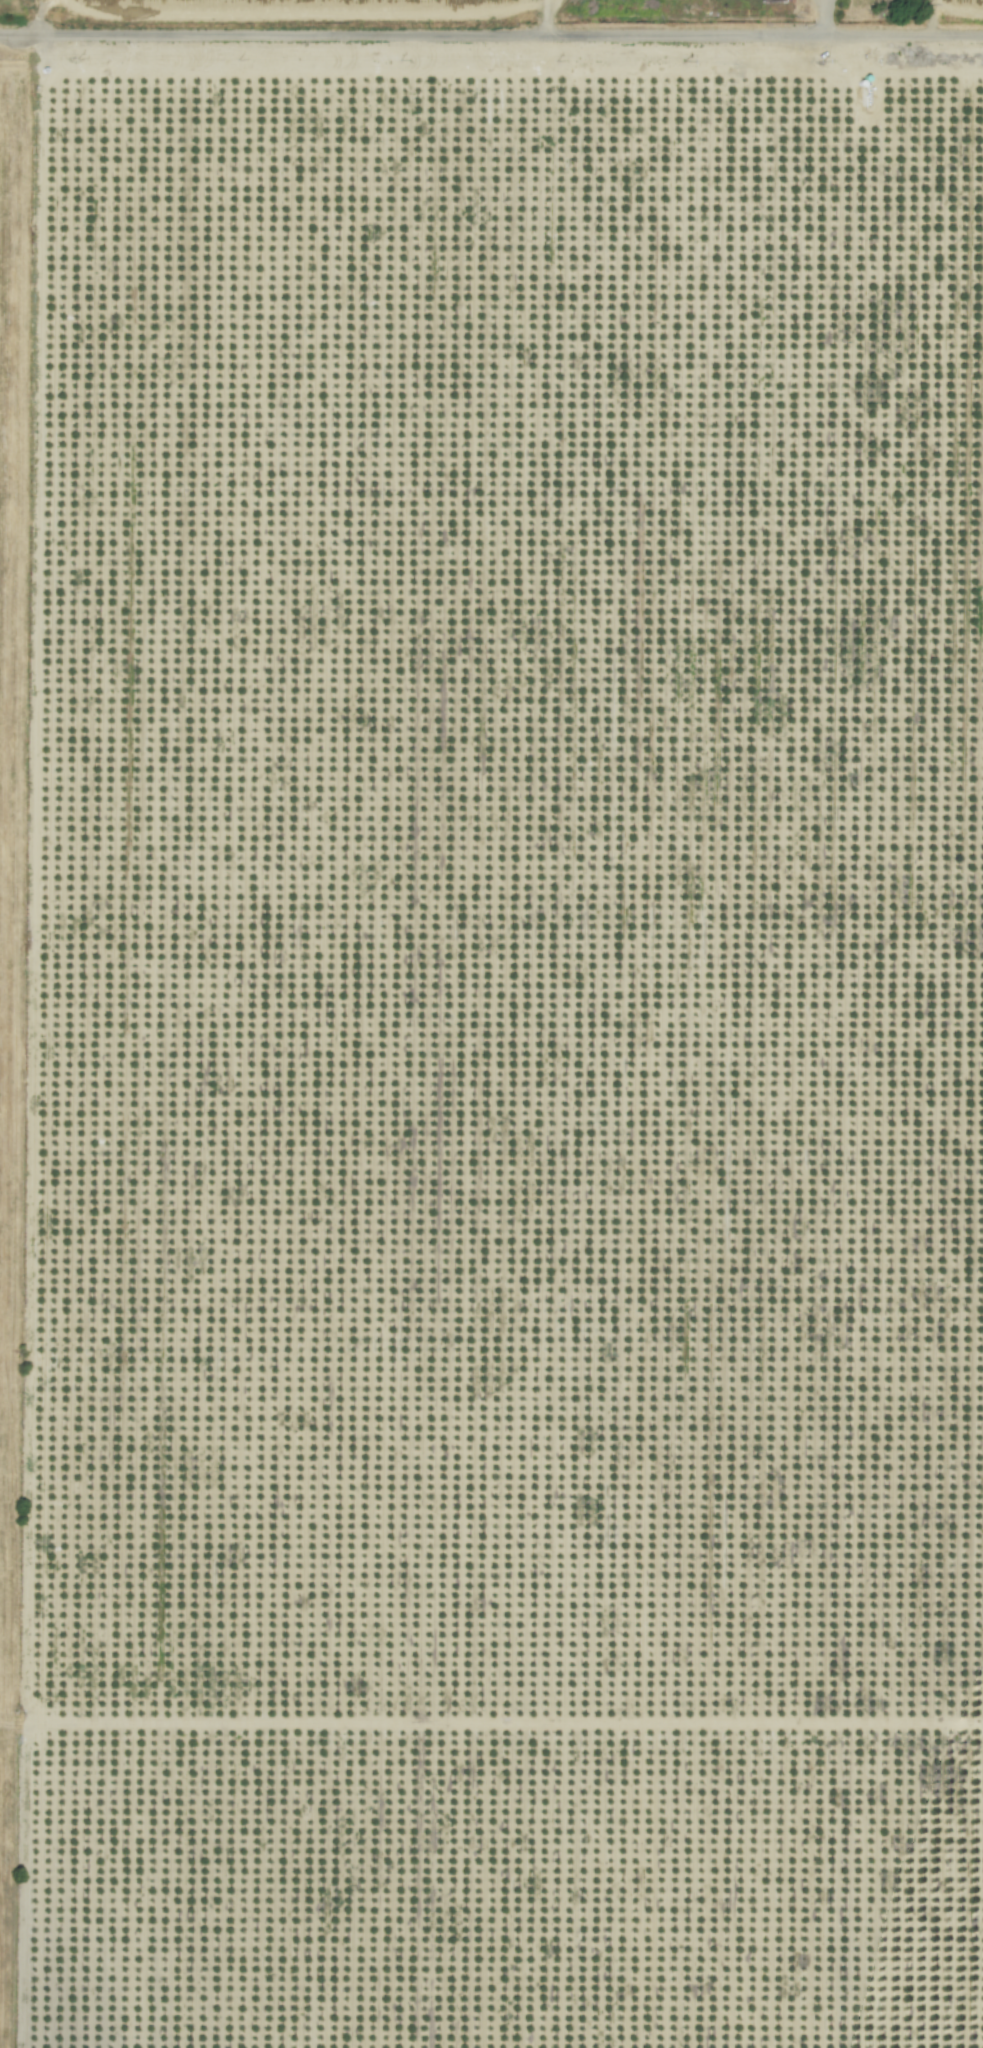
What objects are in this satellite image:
road: (543, 18)
road: (491, 36)
road: (491, 1733)

